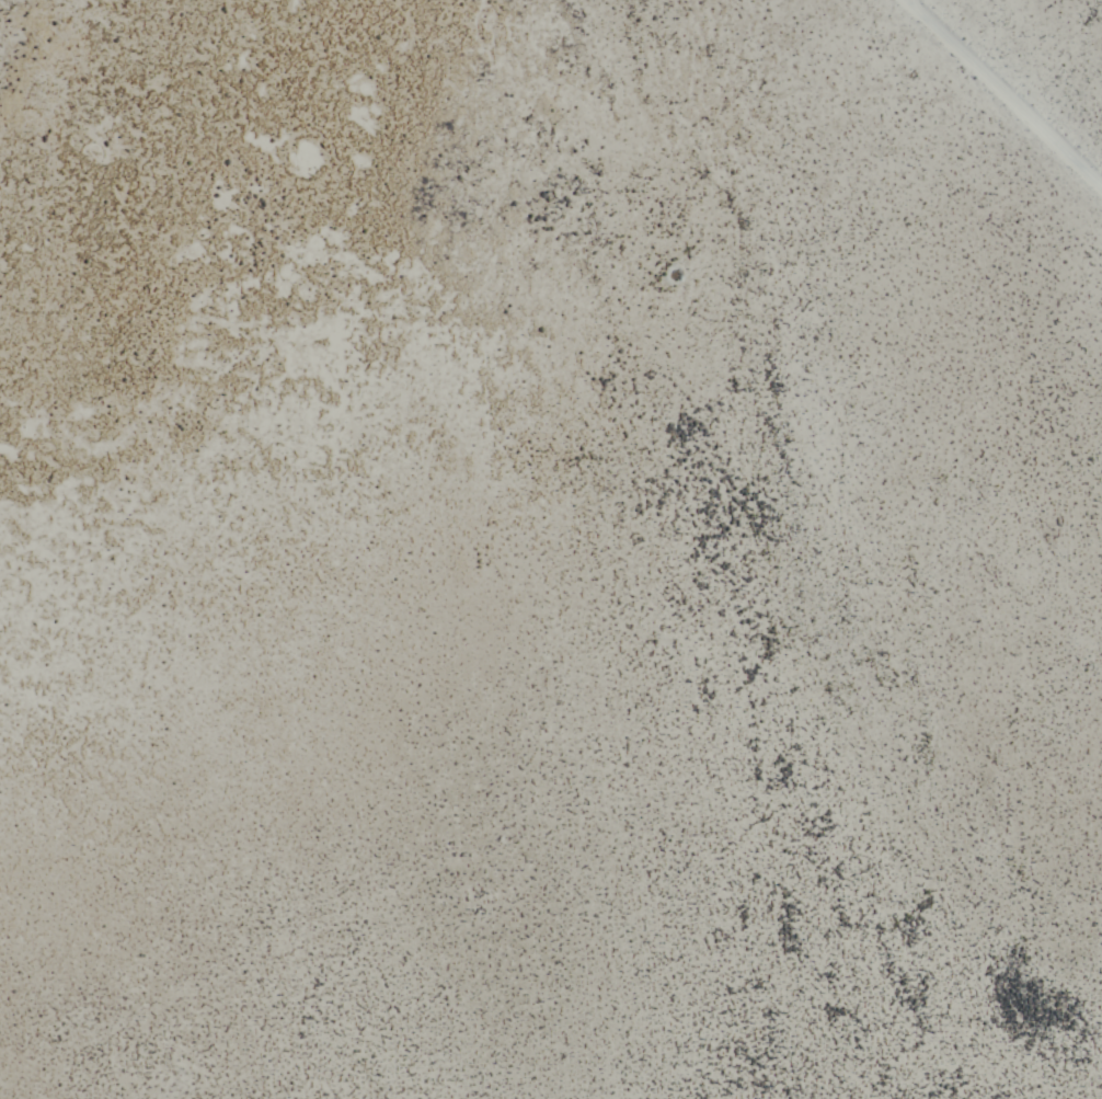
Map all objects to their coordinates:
road: (1005, 92)

